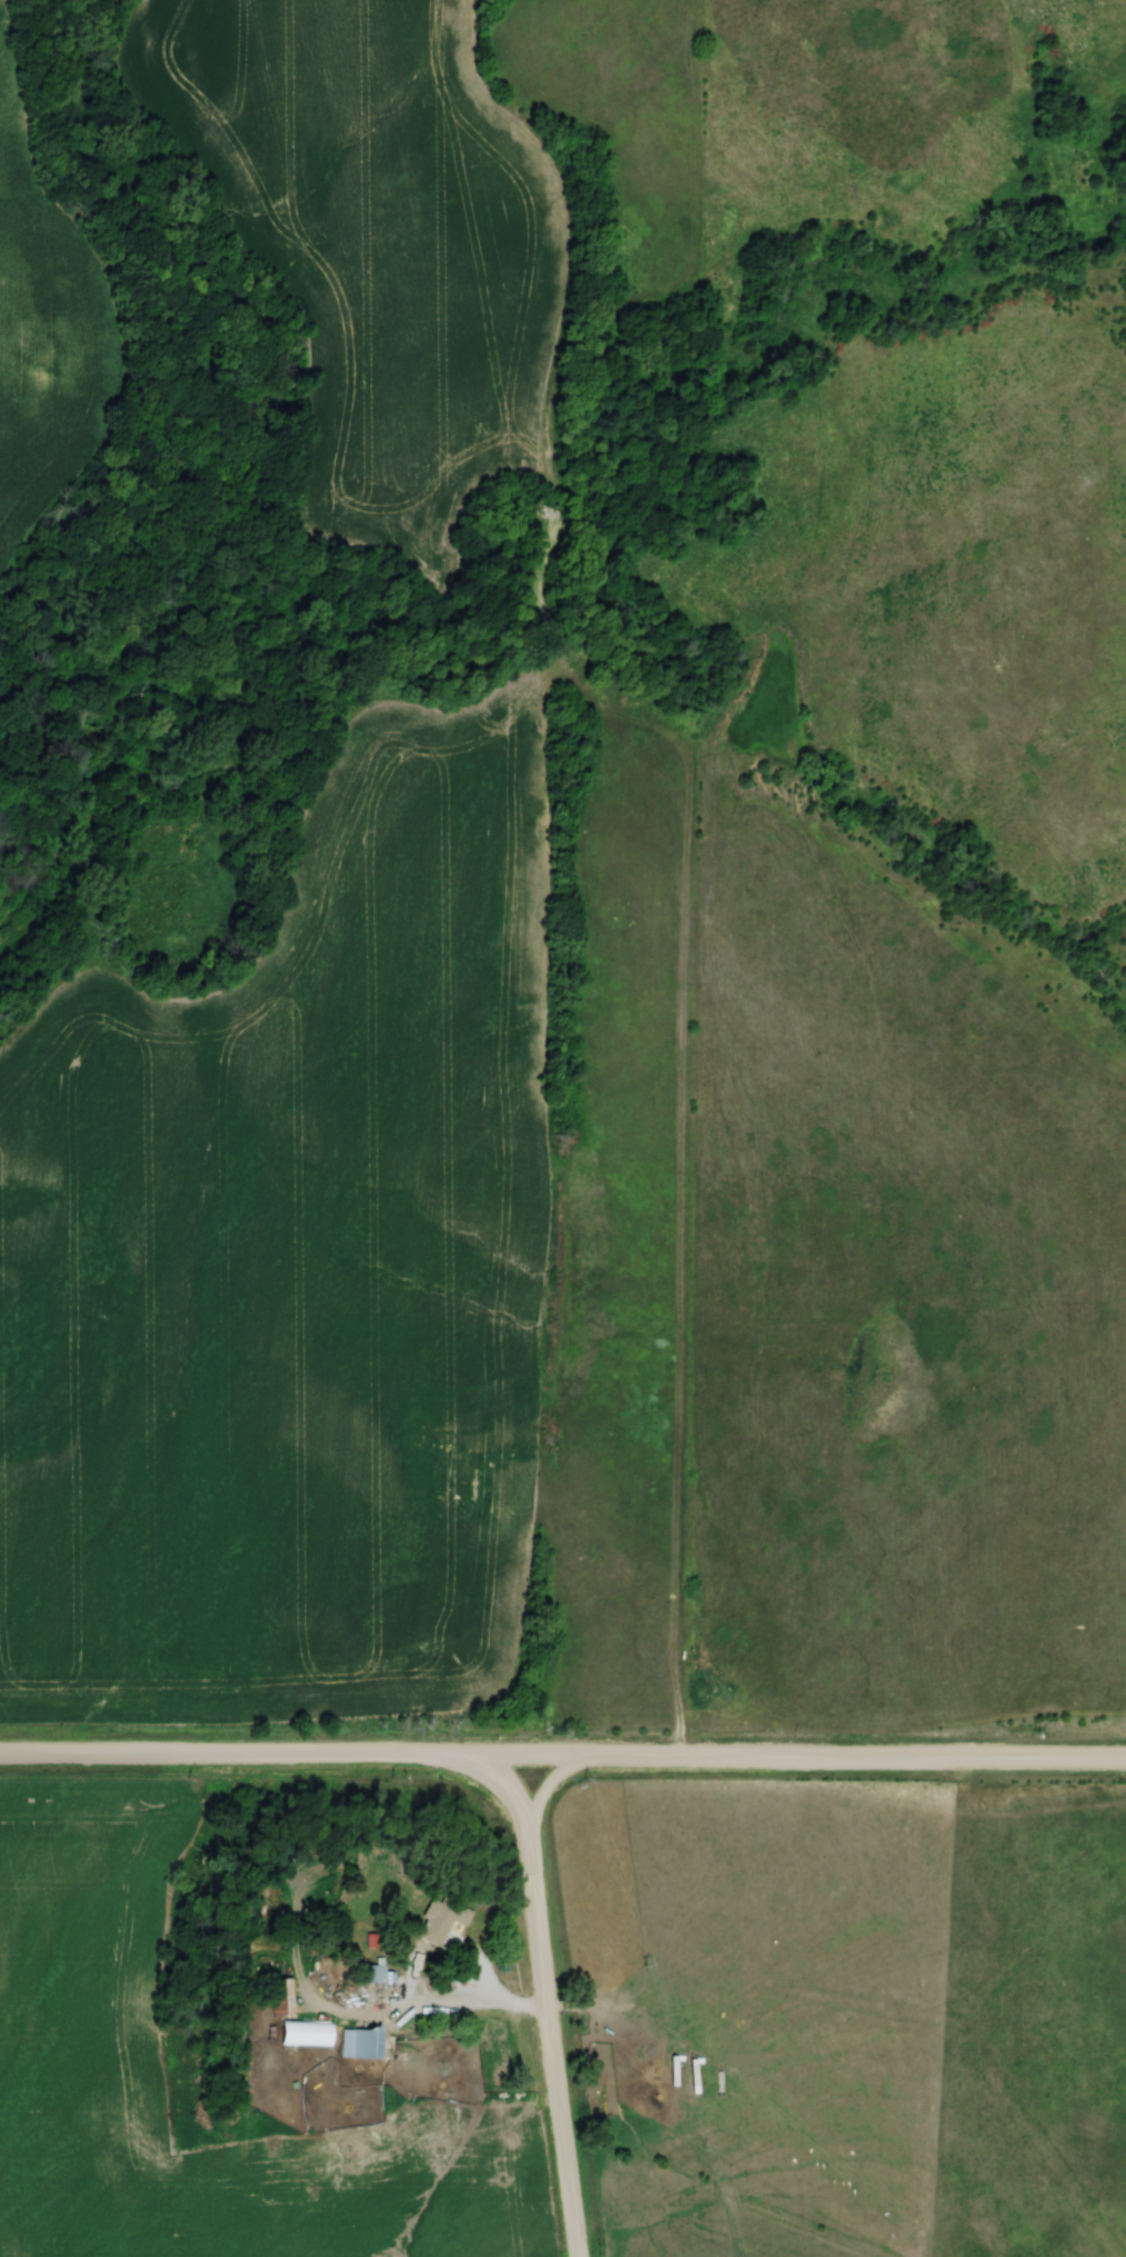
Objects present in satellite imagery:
road: (562, 1761)
road: (543, 1795)
building: (444, 1915)
building: (375, 1974)
road: (489, 1989)
building: (280, 1996)
road: (545, 2001)
building: (359, 2043)

